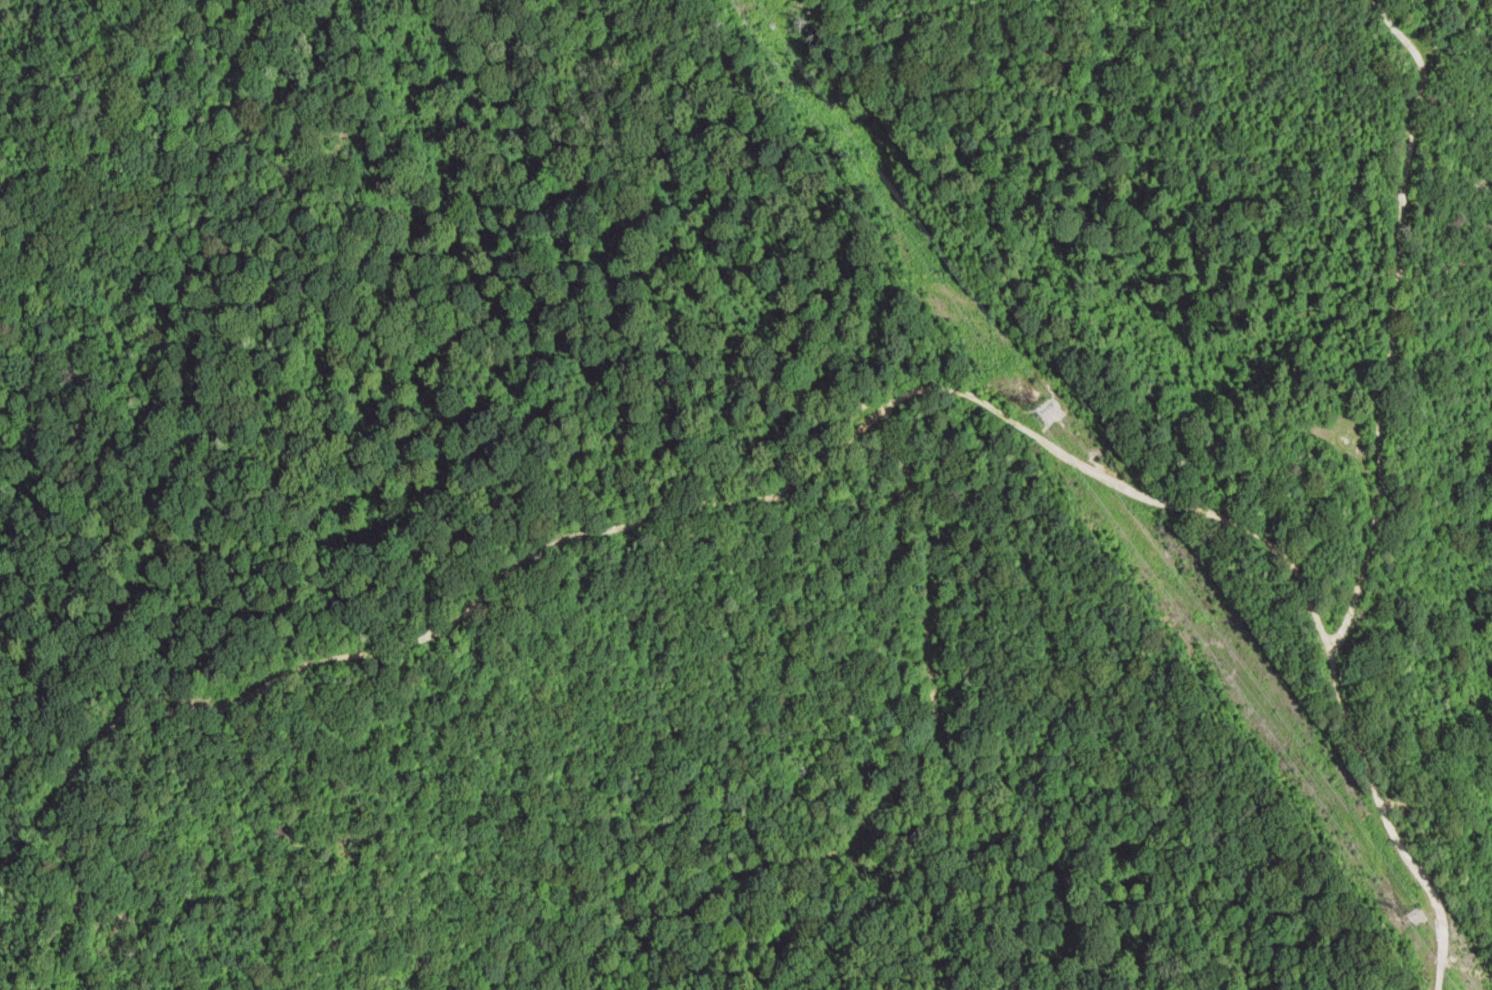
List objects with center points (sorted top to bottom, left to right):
road: (1392, 321)
road: (662, 498)
road: (908, 641)
road: (1394, 824)

